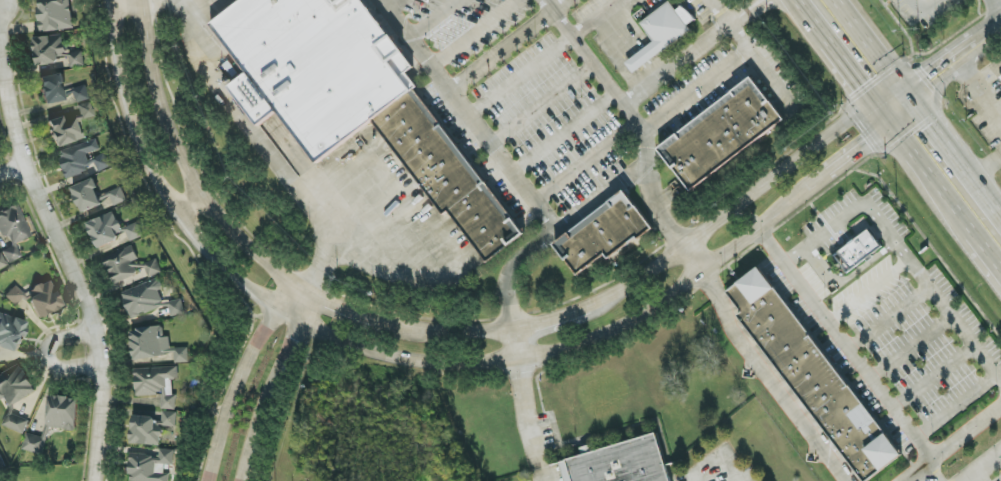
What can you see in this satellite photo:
building: (923, 0)
road: (121, 1)
road: (183, 1)
building: (927, 1)
road: (765, 3)
road: (393, 6)
road: (744, 9)
road: (994, 9)
road: (923, 10)
building: (55, 15)
road: (596, 18)
road: (810, 19)
road: (433, 20)
road: (474, 34)
road: (619, 34)
building: (662, 35)
road: (508, 46)
road: (871, 46)
building: (56, 51)
road: (748, 51)
road: (952, 58)
road: (641, 61)
road: (680, 63)
road: (651, 74)
road: (853, 75)
road: (518, 77)
building: (1000, 78)
building: (52, 89)
road: (977, 90)
road: (695, 92)
traffic signals: (906, 93)
building: (82, 94)
traffic signals: (872, 100)
building: (357, 101)
road: (230, 106)
road: (540, 106)
road: (465, 116)
road: (886, 118)
road: (930, 124)
building: (70, 125)
traffic signals: (892, 126)
road: (562, 135)
building: (722, 136)
building: (84, 158)
road: (584, 163)
road: (986, 168)
road: (13, 171)
road: (933, 179)
road: (977, 186)
building: (87, 196)
building: (118, 196)
road: (191, 203)
road: (856, 210)
building: (112, 230)
building: (12, 233)
building: (606, 235)
road: (443, 245)
road: (680, 245)
road: (987, 250)
building: (858, 251)
road: (320, 262)
road: (67, 264)
building: (129, 267)
road: (849, 276)
road: (506, 292)
road: (867, 292)
building: (14, 295)
building: (44, 299)
building: (143, 299)
building: (176, 308)
road: (887, 318)
road: (959, 326)
building: (11, 332)
road: (464, 333)
building: (155, 345)
road: (843, 346)
road: (910, 348)
road: (48, 355)
road: (450, 364)
road: (240, 377)
building: (815, 378)
road: (933, 378)
building: (157, 384)
building: (15, 385)
road: (272, 385)
road: (956, 407)
building: (15, 422)
building: (151, 428)
road: (951, 443)
building: (34, 444)
road: (1000, 452)
road: (717, 458)
building: (1, 462)
building: (620, 464)
road: (981, 465)
building: (150, 466)
building: (165, 469)
road: (930, 472)

